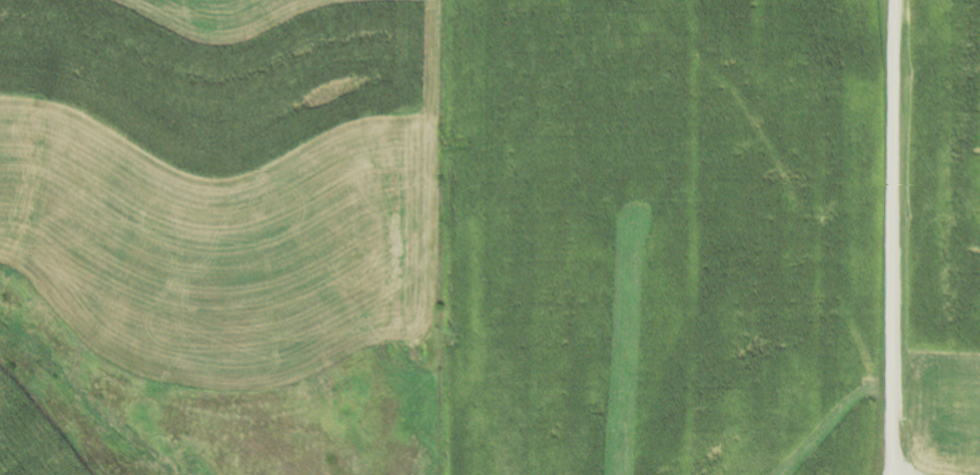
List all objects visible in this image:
road: (891, 237)

